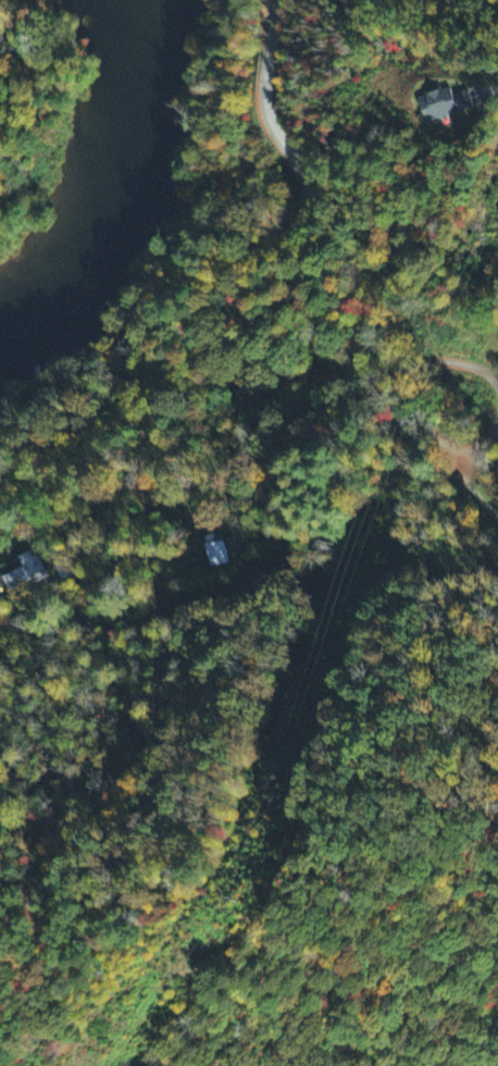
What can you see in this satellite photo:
road: (28, 53)
road: (264, 86)
building: (444, 104)
river: (133, 120)
road: (279, 230)
river: (41, 266)
road: (351, 349)
road: (275, 474)
road: (468, 489)
building: (214, 550)
building: (24, 574)

